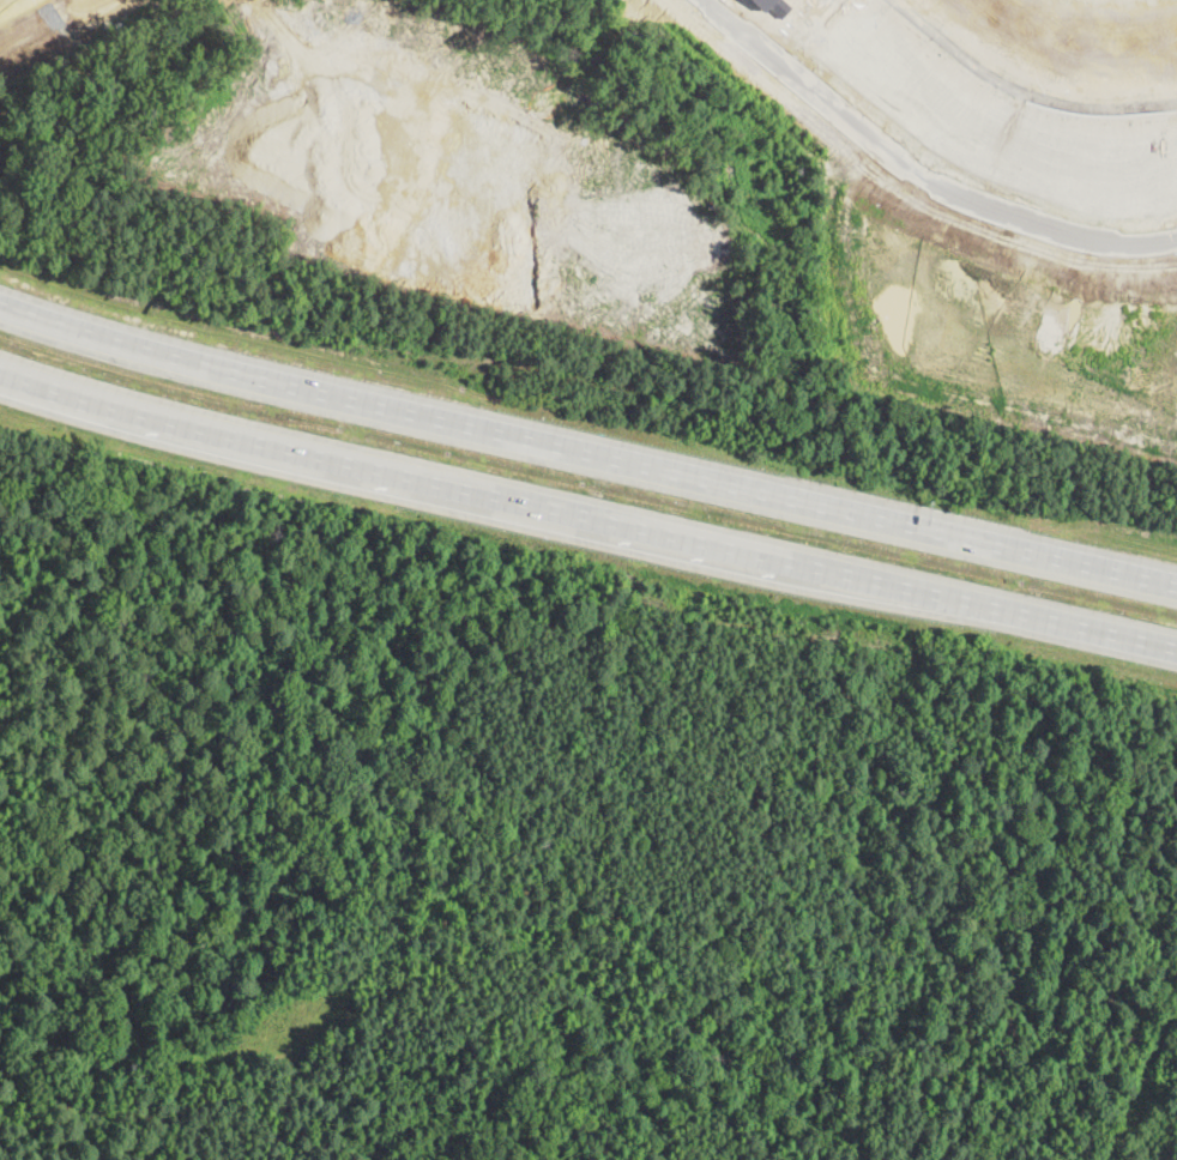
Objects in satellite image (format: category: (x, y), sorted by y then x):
road: (1026, 85)
road: (916, 174)
road: (586, 452)
road: (586, 520)

